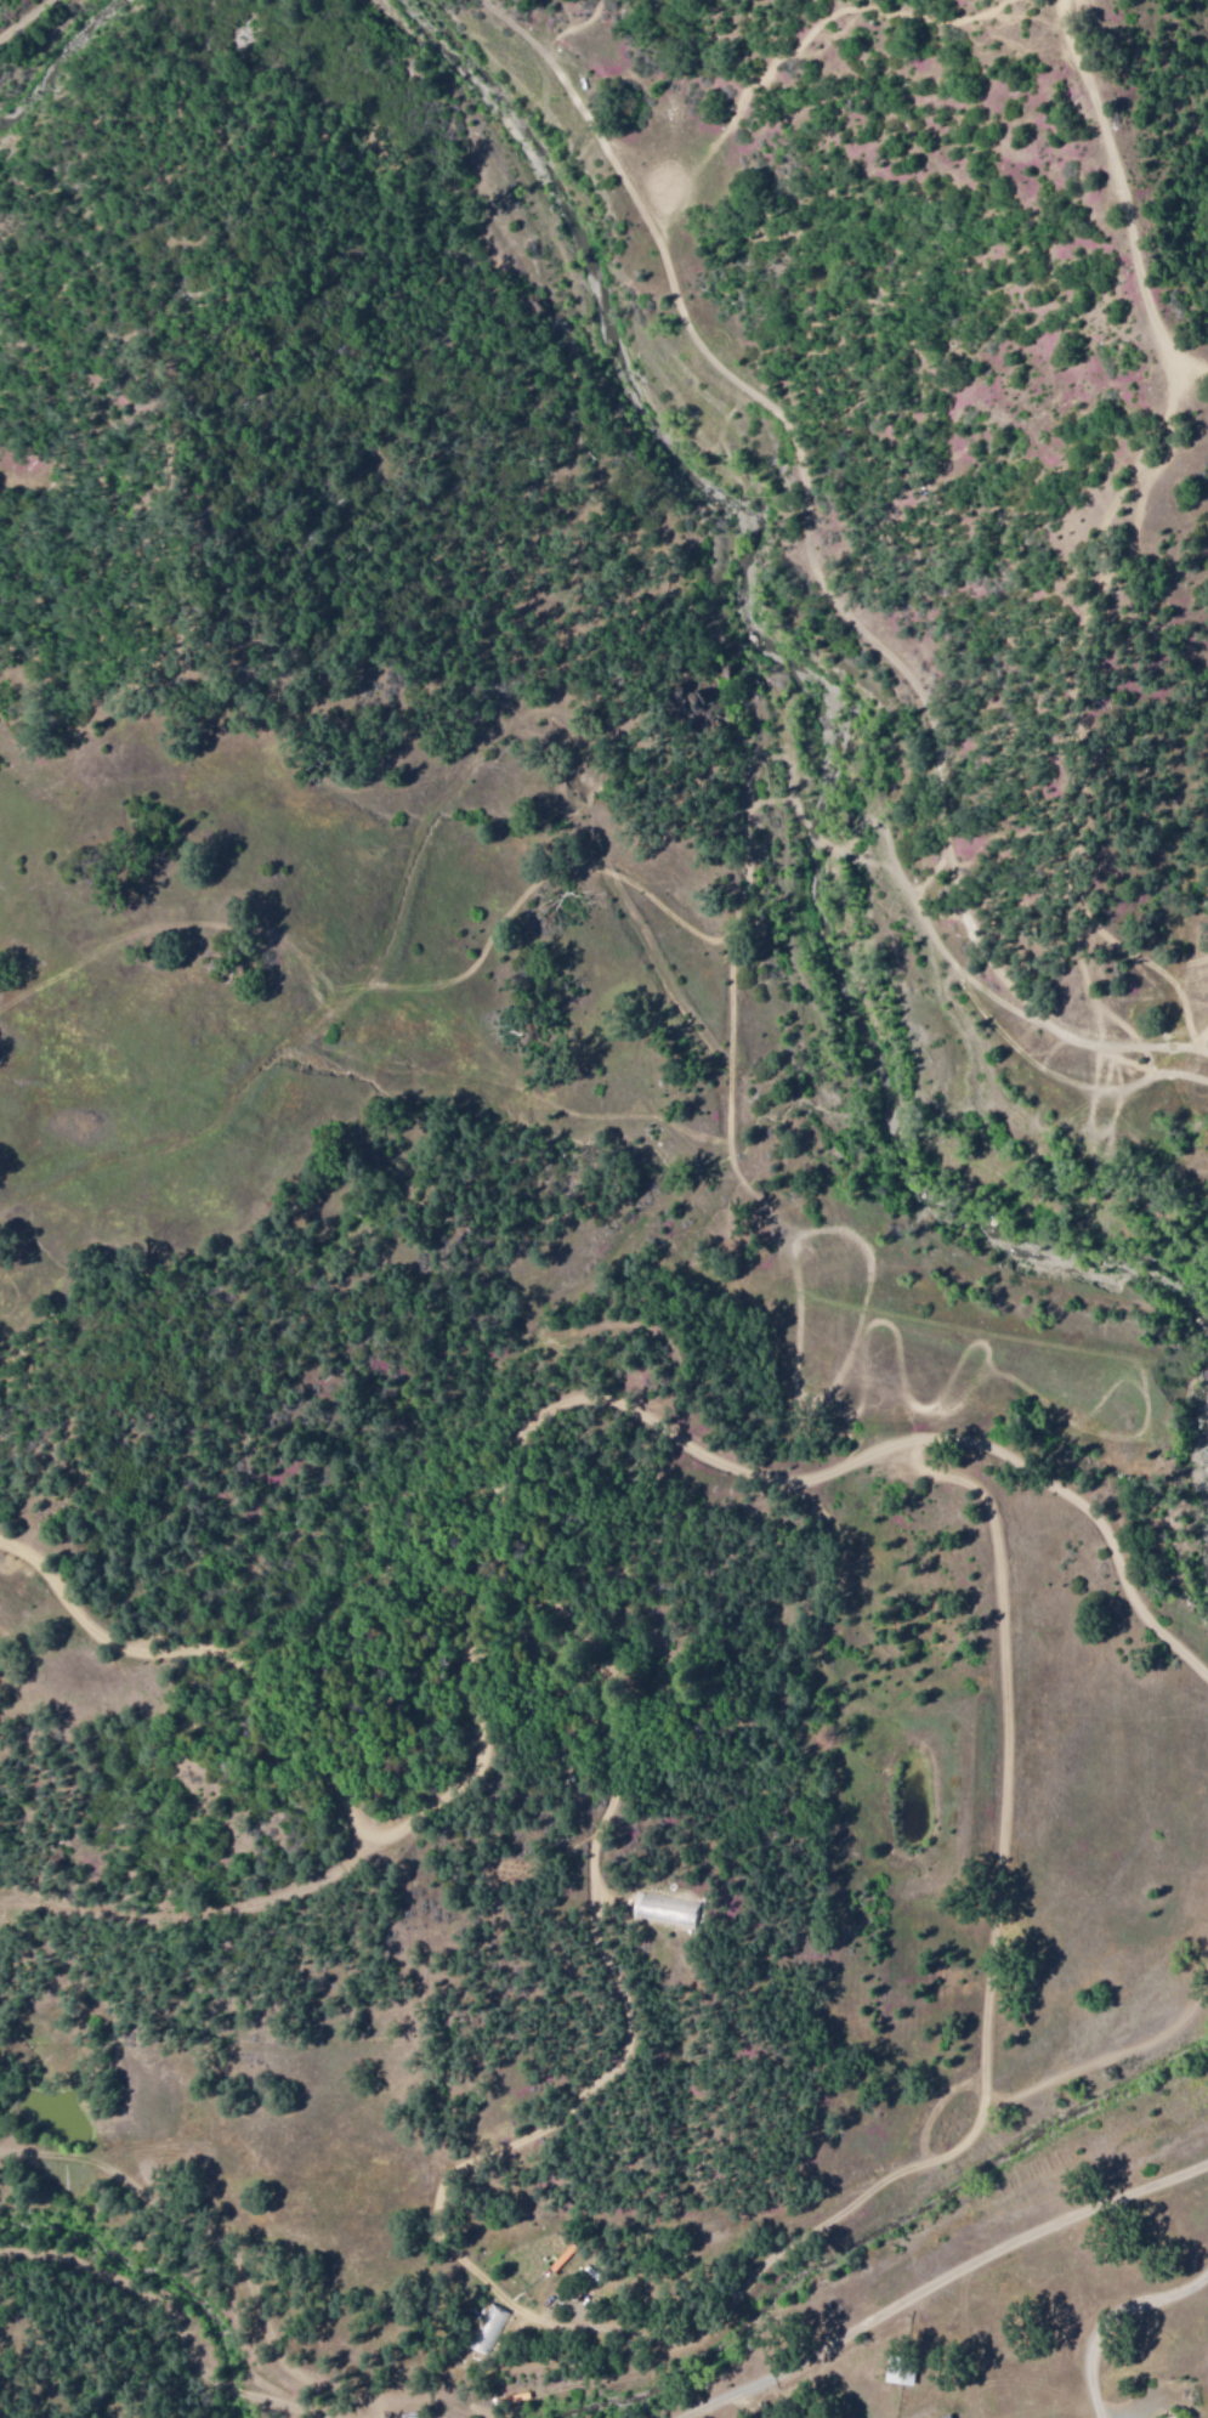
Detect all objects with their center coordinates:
road: (16, 13)
road: (1119, 194)
road: (827, 574)
road: (654, 1411)
road: (945, 2282)
road: (236, 2367)
building: (900, 2369)
building: (947, 2416)

